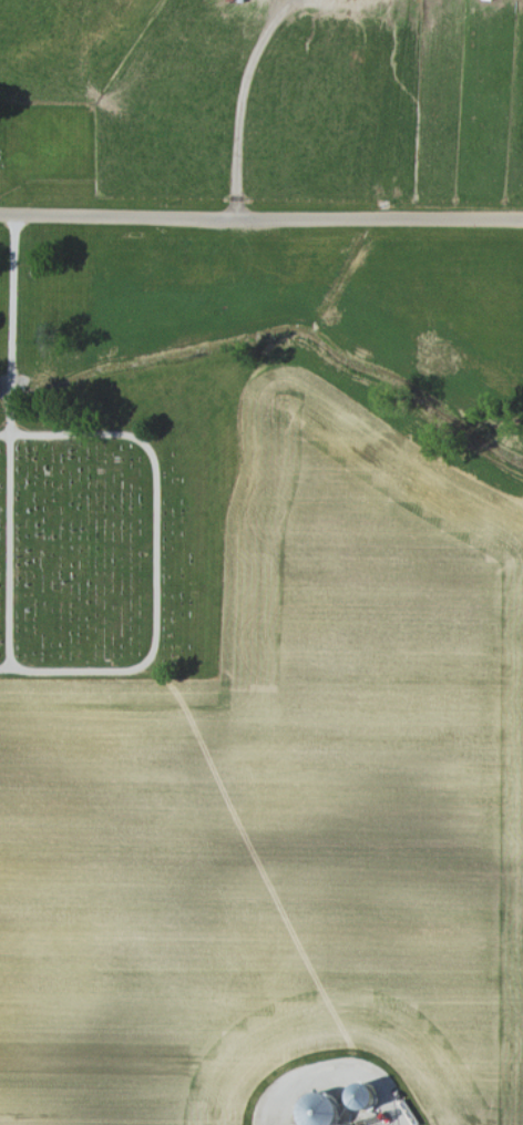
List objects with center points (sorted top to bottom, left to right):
road: (242, 98)
park: (45, 150)
road: (260, 216)
park: (95, 495)
road: (339, 1067)

